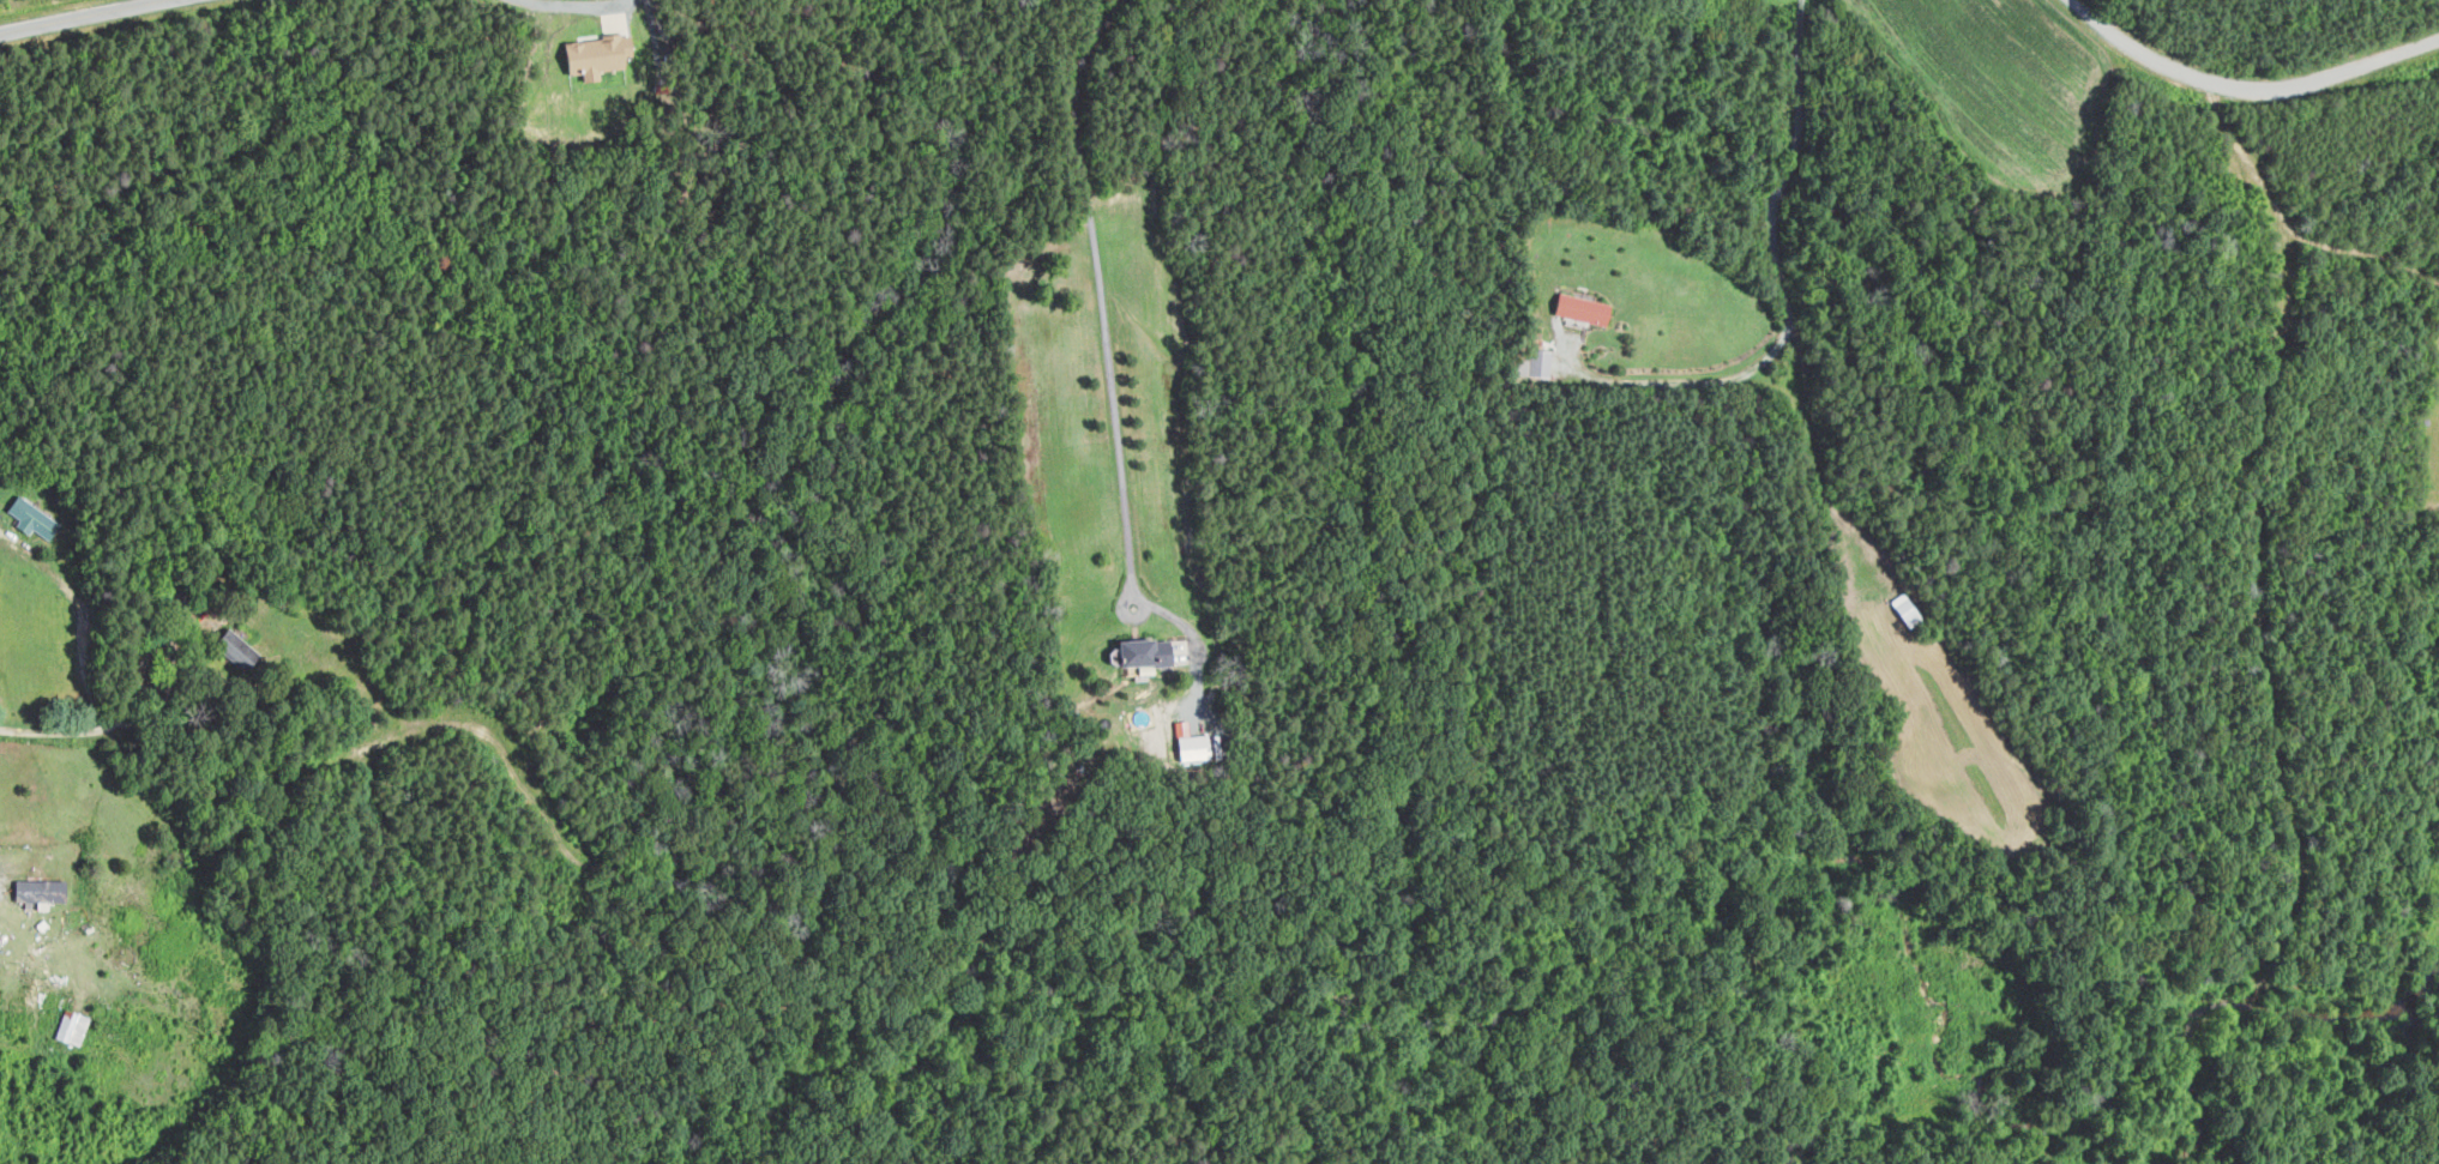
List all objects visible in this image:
road: (579, 5)
road: (79, 17)
building: (592, 55)
road: (2253, 80)
road: (1784, 295)
road: (1098, 296)
building: (1576, 308)
building: (1536, 362)
building: (28, 517)
road: (1196, 634)
building: (235, 646)
building: (1137, 653)
road: (85, 656)
building: (1187, 742)
road: (5, 879)
building: (43, 889)
building: (74, 1026)

